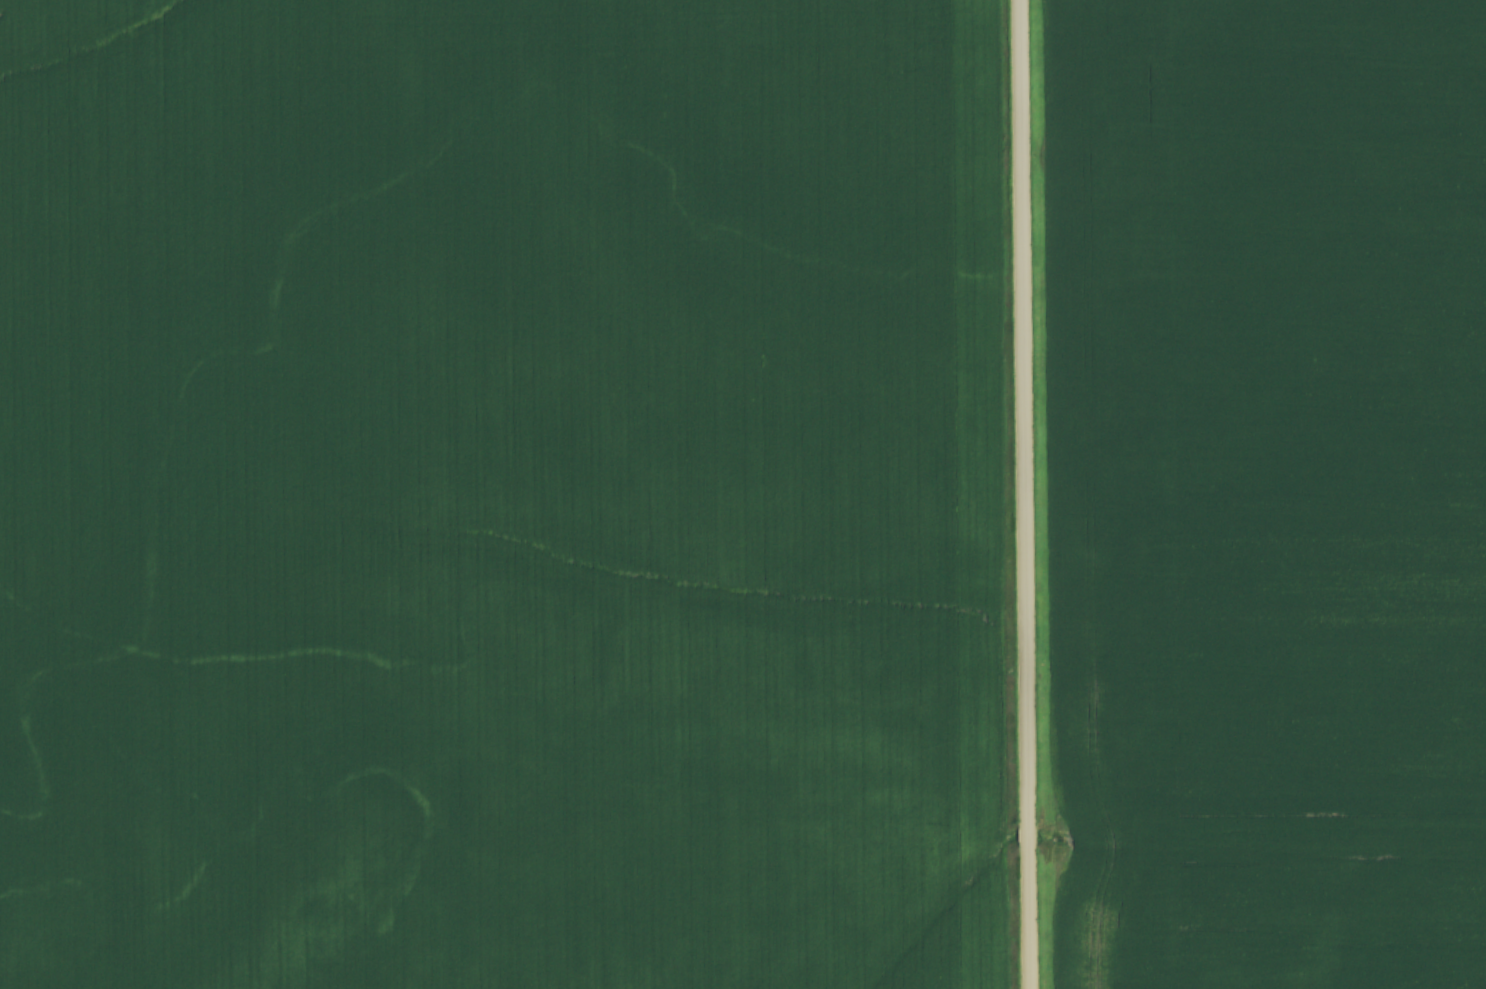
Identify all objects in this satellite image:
road: (1026, 494)

